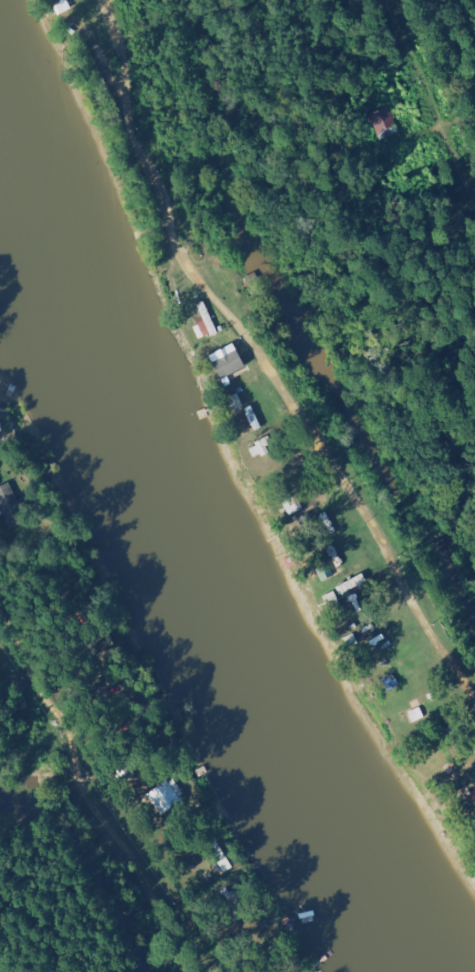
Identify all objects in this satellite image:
road: (210, 308)
building: (203, 320)
building: (226, 361)
building: (248, 418)
river: (183, 567)
building: (347, 584)
road: (434, 649)
road: (82, 789)
building: (163, 795)
building: (473, 798)

